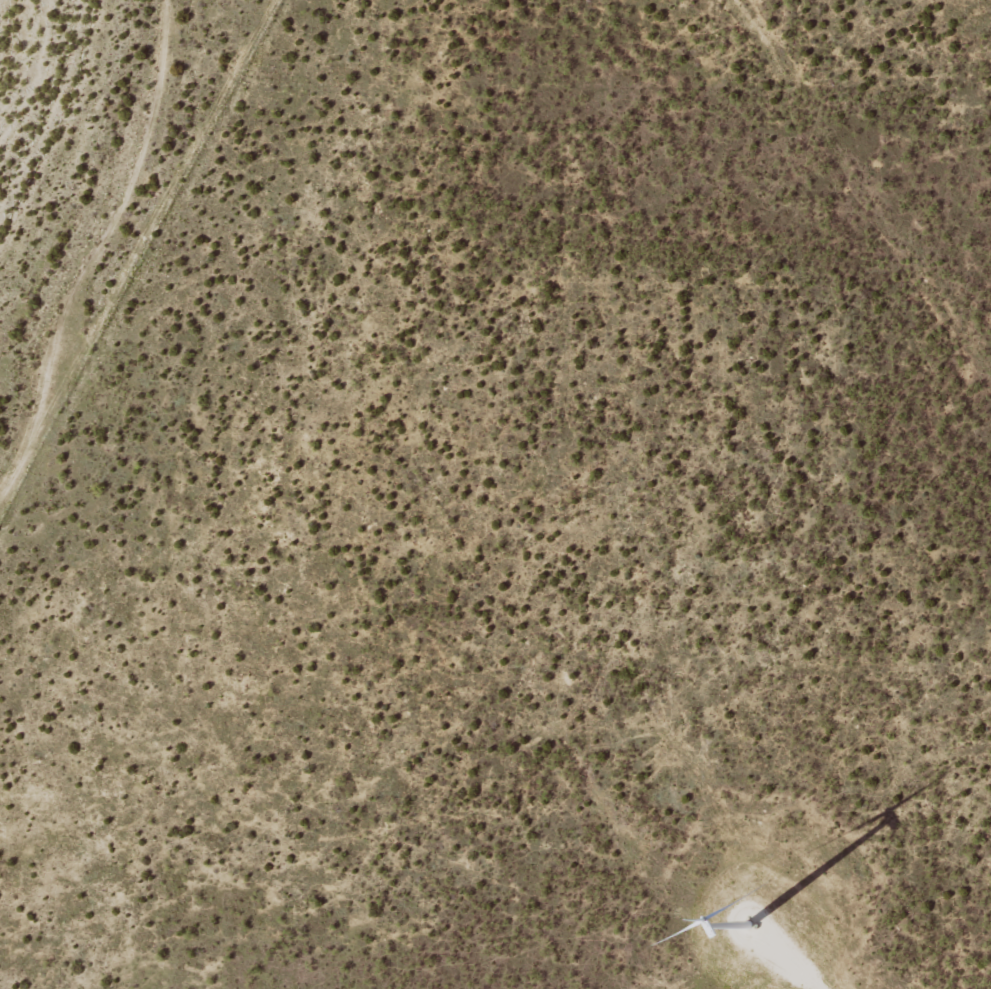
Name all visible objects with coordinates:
wind turbine: (749, 925)

